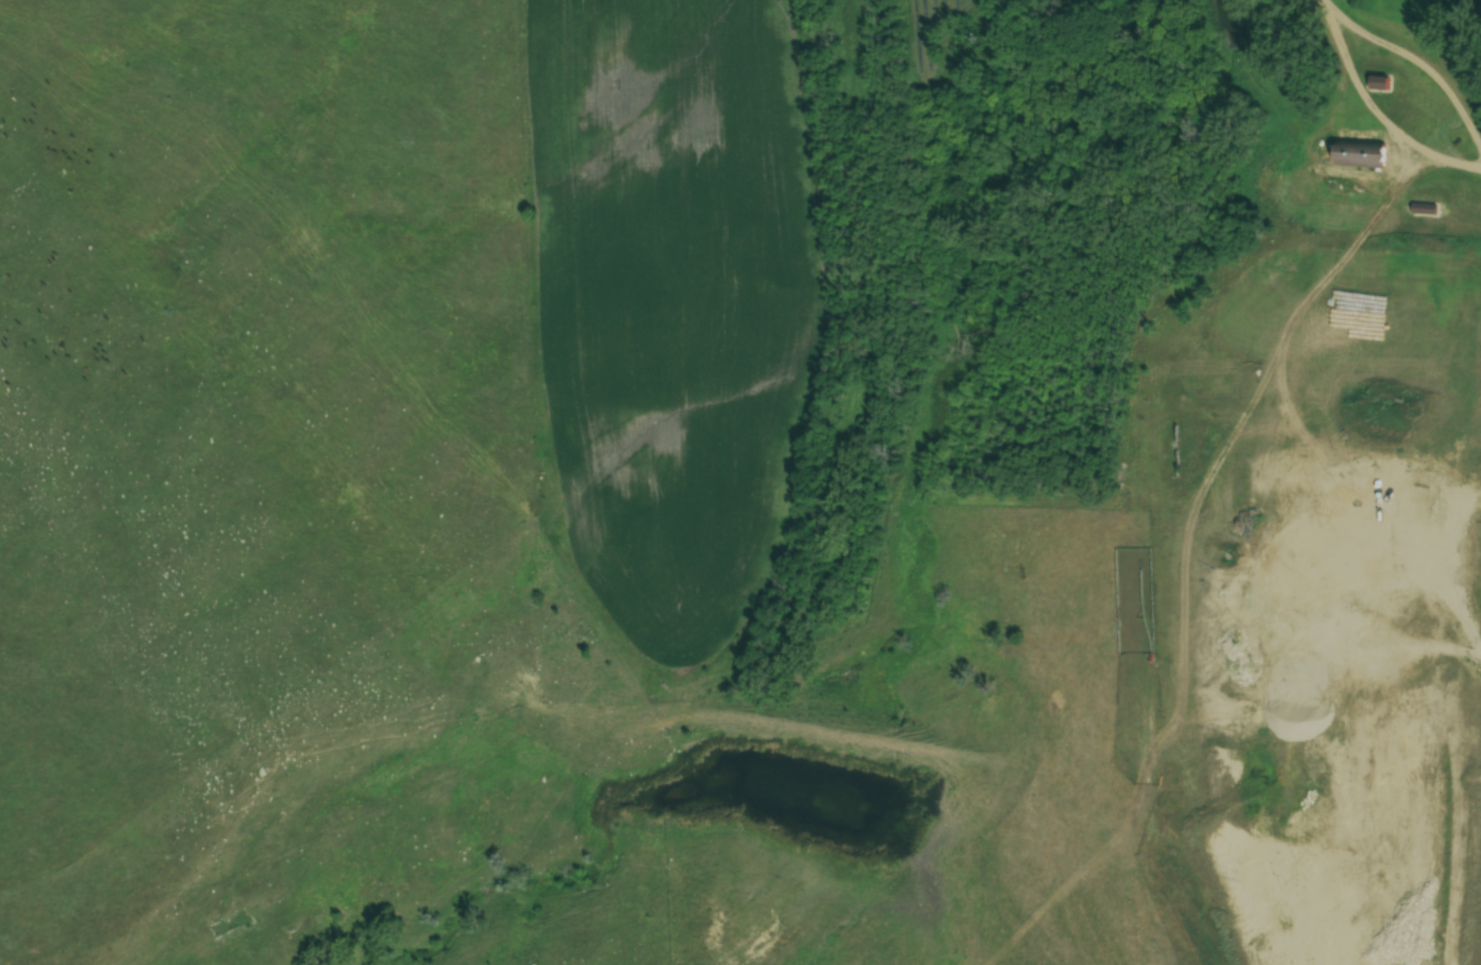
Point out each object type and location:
building: (1378, 83)
road: (1380, 107)
building: (1354, 147)

